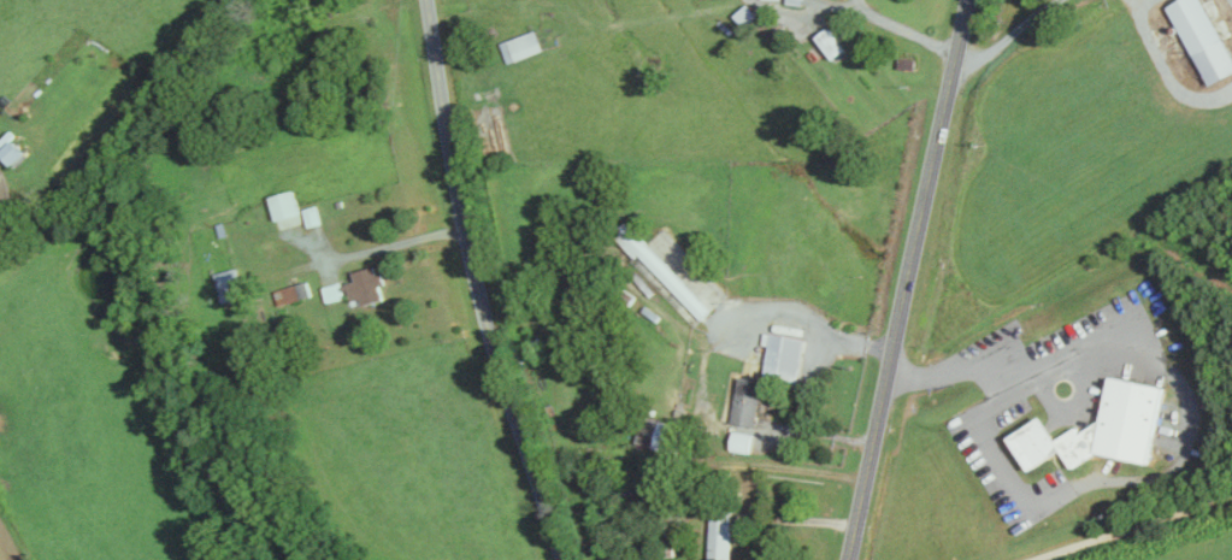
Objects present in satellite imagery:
building: (747, 13)
road: (904, 29)
road: (1009, 35)
building: (1206, 37)
building: (833, 42)
building: (524, 45)
road: (1167, 69)
building: (14, 151)
road: (2, 200)
building: (287, 204)
building: (313, 214)
building: (290, 220)
road: (396, 243)
building: (665, 246)
building: (665, 270)
road: (908, 279)
building: (230, 284)
building: (367, 284)
road: (476, 284)
building: (293, 291)
building: (335, 291)
road: (832, 335)
building: (785, 355)
building: (750, 400)
road: (1190, 423)
building: (1103, 428)
road: (818, 432)
building: (671, 437)
building: (743, 441)
road: (780, 466)
road: (1132, 526)
building: (723, 537)

